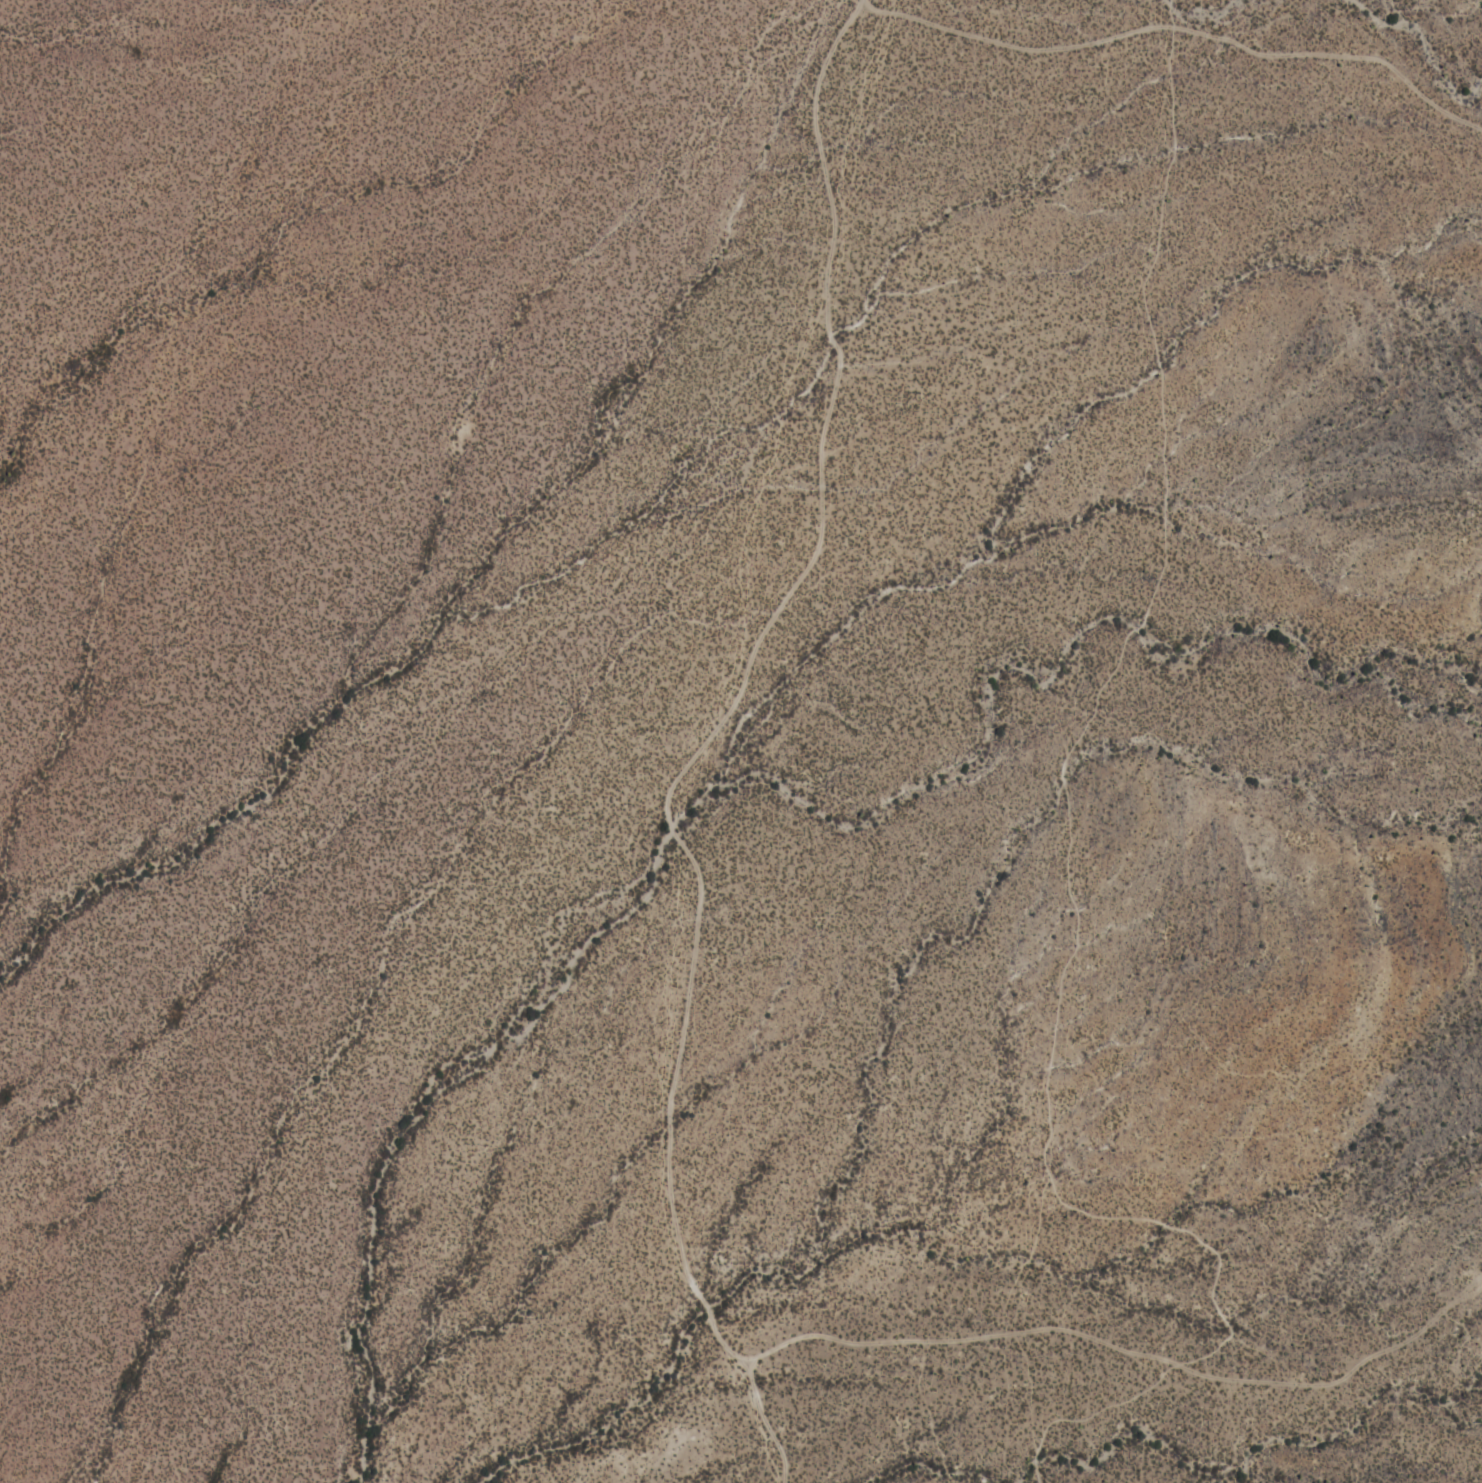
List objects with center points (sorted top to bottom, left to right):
road: (864, 0)
road: (1182, 22)
road: (704, 740)
road: (1068, 854)
road: (980, 1333)

